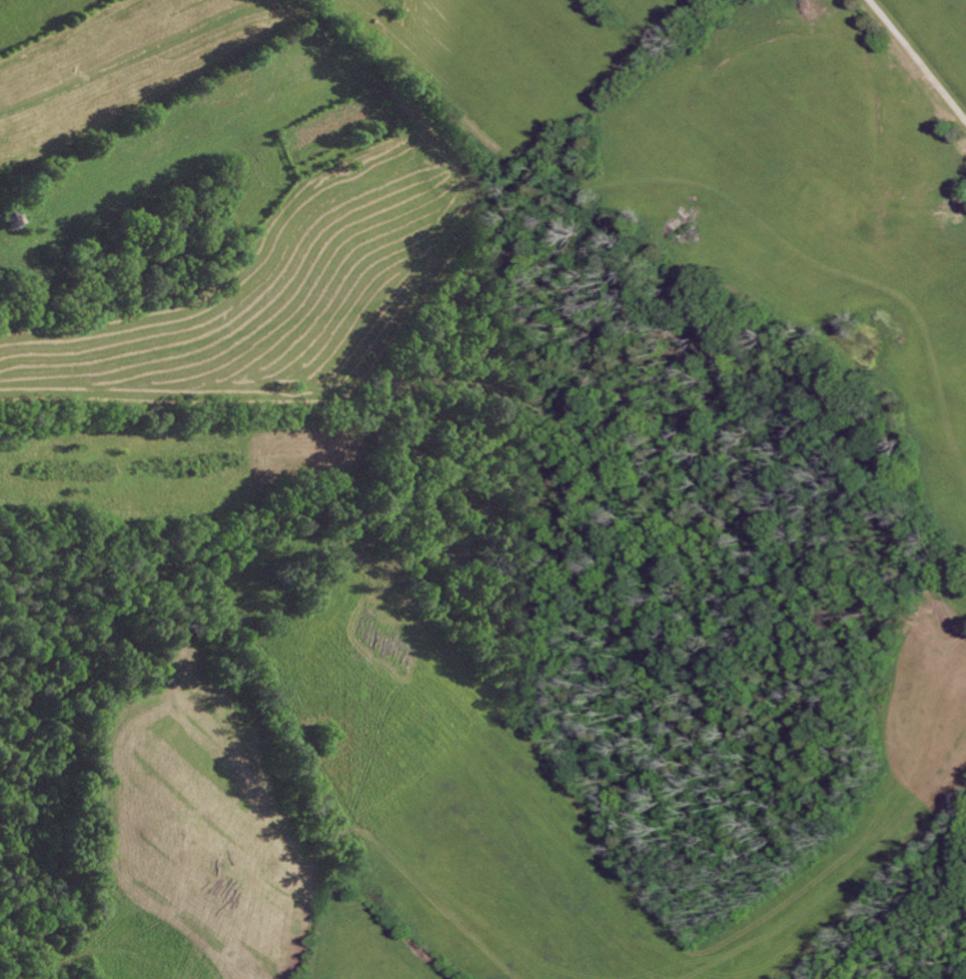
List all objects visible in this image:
road: (917, 56)

